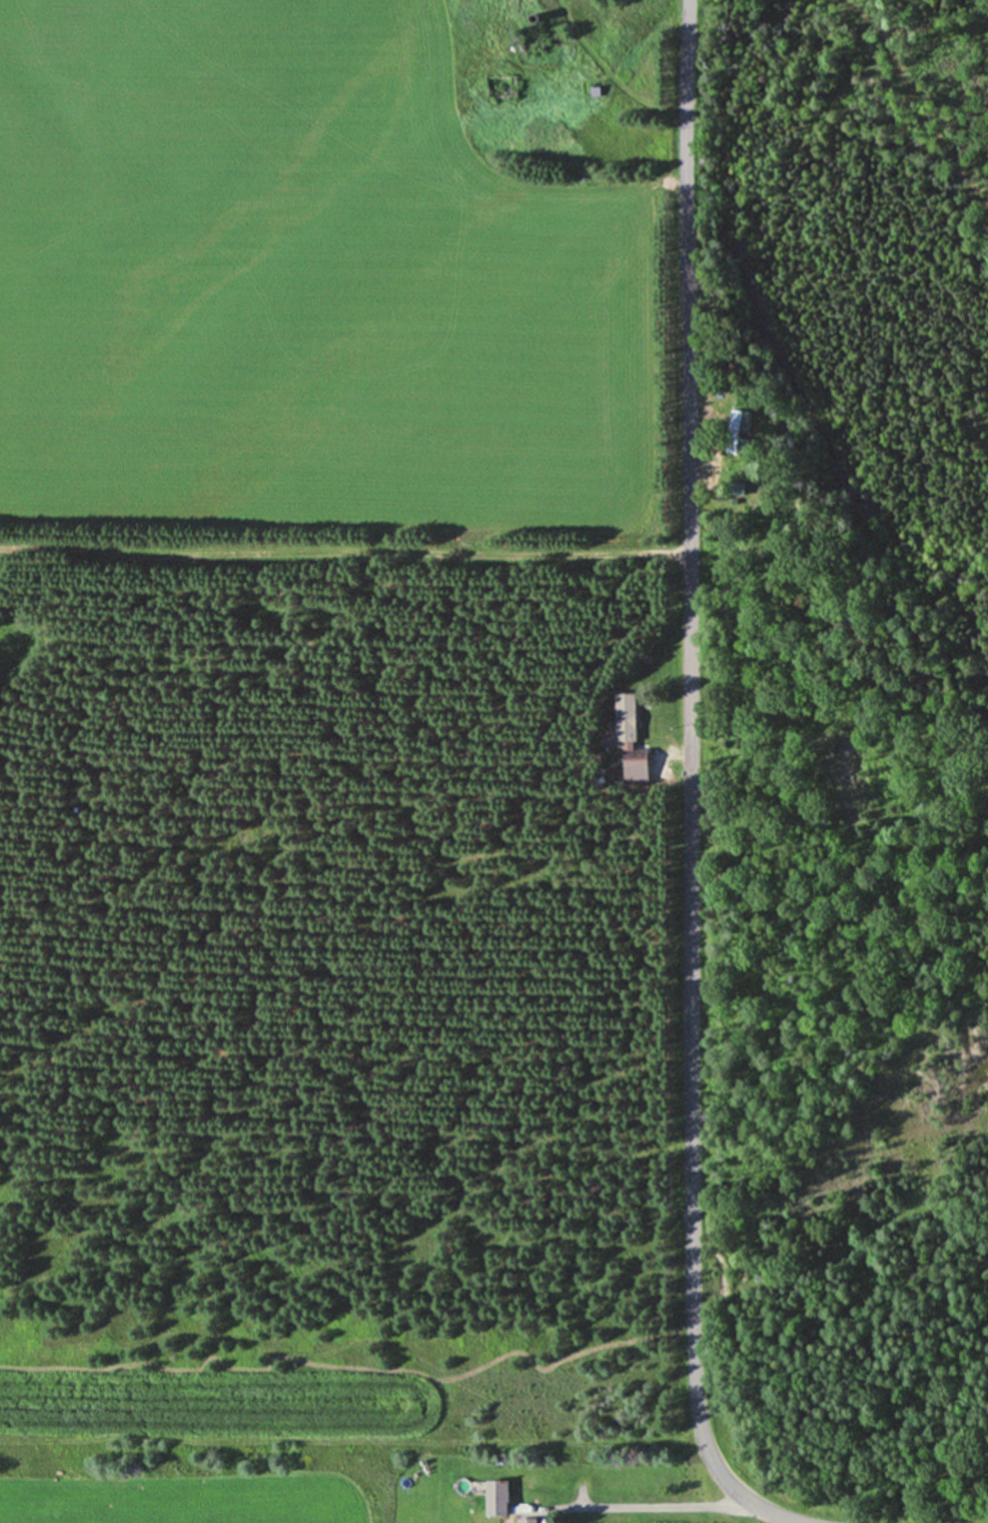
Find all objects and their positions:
road: (345, 555)
building: (623, 719)
building: (632, 760)
road: (691, 783)
building: (491, 1499)
road: (648, 1510)

